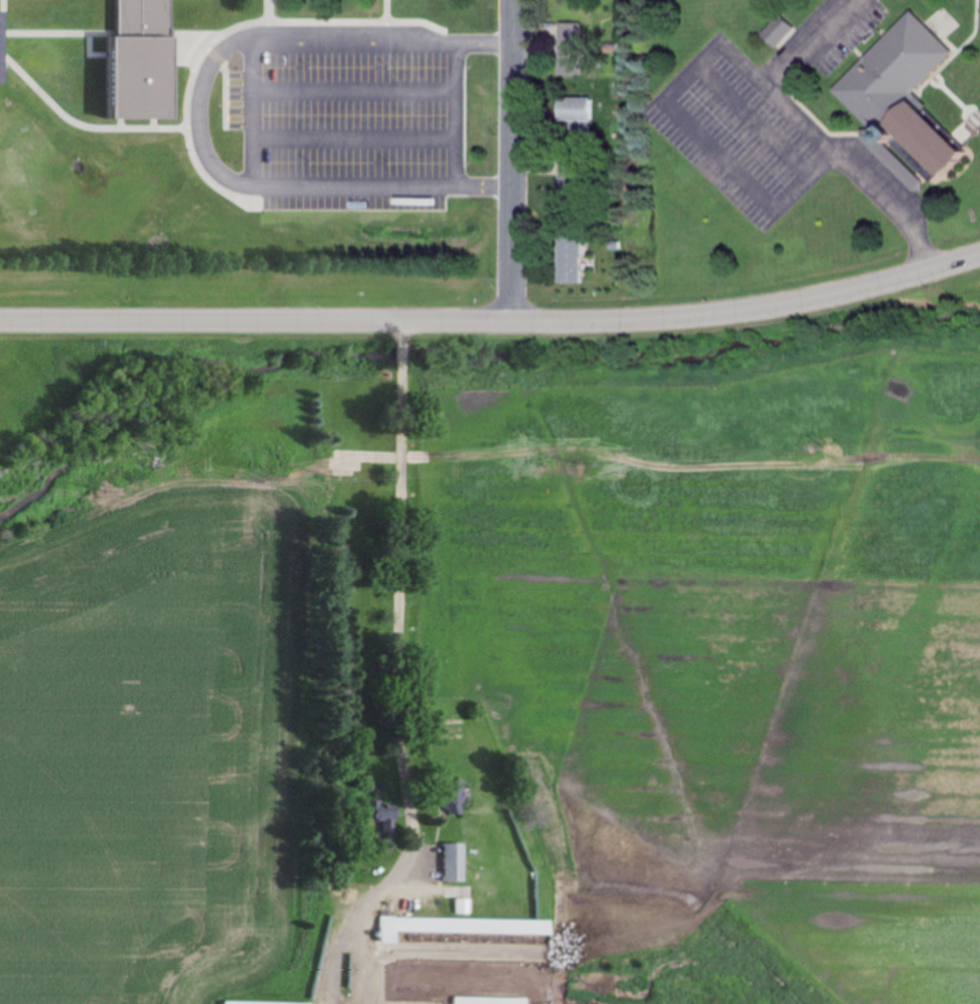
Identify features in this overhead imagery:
building: (572, 46)
road: (244, 76)
road: (415, 87)
building: (910, 101)
building: (582, 114)
road: (509, 160)
building: (573, 176)
building: (572, 256)
road: (887, 279)
road: (202, 318)
road: (651, 319)
road: (456, 320)
road: (404, 599)
crop: (724, 645)
crop: (163, 725)
building: (455, 862)
building: (464, 906)
building: (462, 926)
building: (263, 1003)

